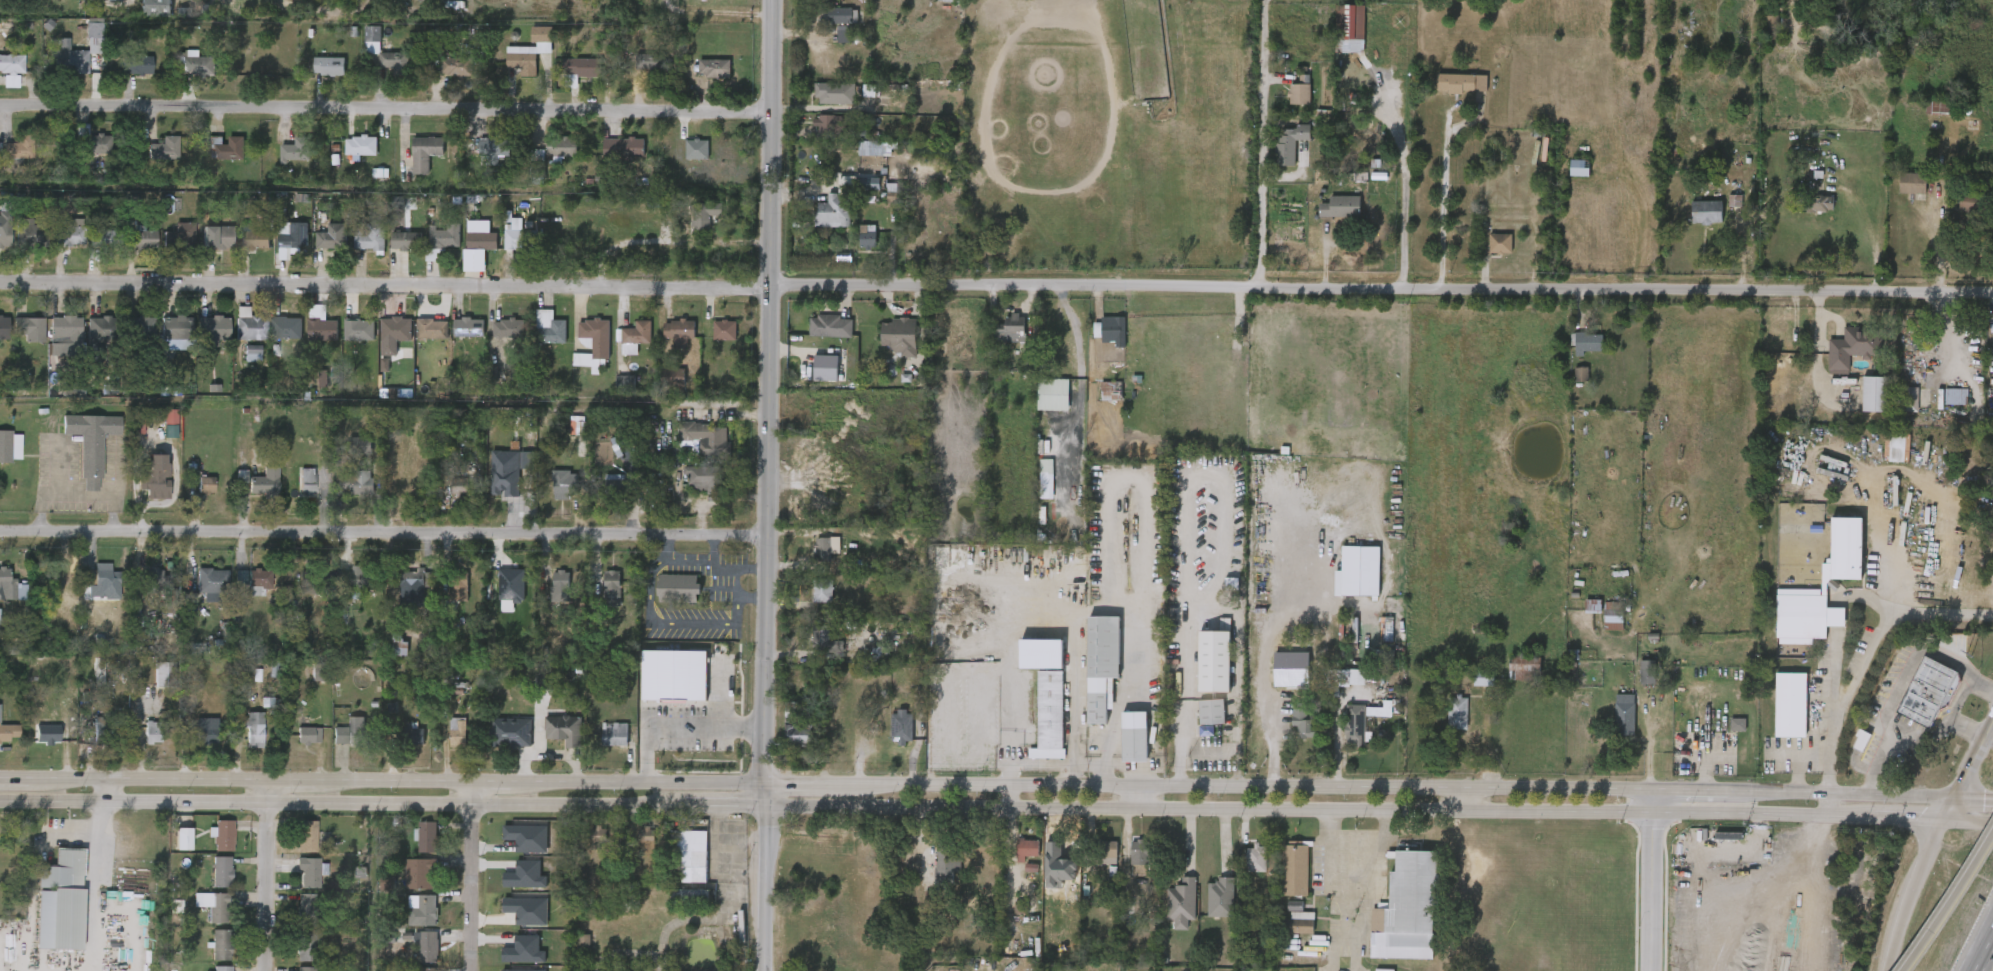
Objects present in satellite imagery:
building: (712, 0)
building: (102, 5)
building: (142, 13)
building: (841, 13)
building: (1773, 25)
building: (827, 27)
building: (91, 30)
building: (1336, 32)
building: (847, 34)
building: (831, 44)
building: (80, 49)
building: (359, 50)
building: (383, 53)
building: (70, 57)
building: (520, 63)
building: (10, 64)
building: (134, 64)
building: (651, 64)
building: (193, 65)
building: (327, 66)
building: (455, 66)
building: (55, 68)
building: (580, 68)
building: (713, 68)
building: (382, 73)
building: (635, 73)
building: (182, 74)
building: (123, 76)
building: (316, 77)
building: (443, 77)
building: (569, 77)
building: (701, 79)
building: (8, 82)
building: (1462, 83)
building: (1330, 84)
building: (836, 92)
building: (1300, 93)
building: (1447, 93)
building: (1286, 102)
building: (819, 104)
building: (1941, 107)
road: (385, 110)
building: (1924, 119)
building: (827, 123)
building: (816, 135)
building: (90, 142)
building: (1289, 142)
building: (359, 146)
building: (223, 147)
building: (561, 147)
building: (18, 148)
building: (493, 148)
building: (621, 148)
road: (1262, 148)
building: (162, 149)
building: (295, 150)
building: (80, 153)
building: (423, 153)
building: (1275, 154)
building: (348, 156)
building: (10, 158)
building: (213, 158)
building: (480, 158)
building: (861, 158)
building: (548, 159)
building: (610, 159)
building: (151, 160)
building: (683, 160)
building: (284, 161)
building: (412, 163)
building: (536, 163)
building: (525, 165)
building: (1579, 166)
building: (1565, 178)
building: (367, 183)
building: (1912, 183)
road: (1406, 187)
building: (1898, 194)
building: (846, 198)
road: (1444, 203)
building: (1819, 203)
building: (1339, 206)
building: (1705, 211)
building: (1721, 212)
building: (703, 213)
building: (1804, 214)
building: (1956, 214)
building: (823, 216)
building: (1326, 217)
building: (1692, 222)
building: (691, 226)
road: (1869, 231)
building: (28, 232)
building: (4, 235)
building: (66, 235)
building: (178, 235)
building: (331, 235)
building: (216, 236)
building: (290, 236)
building: (368, 236)
building: (868, 236)
building: (103, 238)
building: (139, 238)
building: (253, 238)
building: (441, 238)
building: (518, 239)
building: (405, 240)
building: (481, 240)
building: (16, 242)
building: (1499, 242)
building: (500, 245)
building: (90, 246)
building: (56, 247)
building: (166, 247)
building: (319, 247)
building: (854, 247)
building: (203, 248)
building: (430, 248)
building: (468, 248)
building: (278, 249)
building: (356, 249)
building: (130, 250)
building: (241, 251)
building: (393, 251)
building: (1486, 254)
road: (379, 288)
road: (1375, 291)
building: (247, 324)
building: (548, 326)
building: (833, 326)
building: (3, 327)
building: (27, 327)
building: (64, 327)
building: (99, 327)
building: (134, 327)
building: (174, 327)
building: (212, 327)
building: (285, 327)
building: (467, 327)
building: (394, 328)
building: (431, 328)
building: (504, 328)
building: (677, 328)
building: (1011, 328)
building: (322, 329)
building: (1112, 329)
building: (357, 330)
road: (1943, 331)
building: (722, 333)
building: (1785, 334)
building: (899, 335)
building: (127, 336)
building: (236, 336)
building: (634, 336)
building: (308, 337)
building: (816, 337)
building: (1992, 337)
building: (273, 338)
building: (455, 338)
building: (537, 338)
building: (16, 339)
building: (495, 339)
building: (1863, 339)
building: (346, 340)
building: (382, 340)
building: (419, 340)
building: (711, 340)
building: (997, 340)
building: (86, 341)
building: (199, 341)
building: (1097, 341)
building: (161, 342)
building: (666, 343)
building: (1588, 343)
building: (592, 344)
building: (51, 345)
building: (887, 346)
building: (622, 348)
building: (1574, 354)
building: (580, 355)
building: (1835, 361)
building: (238, 364)
building: (673, 377)
building: (812, 378)
building: (1567, 385)
building: (659, 388)
building: (310, 389)
building: (1112, 391)
building: (612, 393)
building: (1875, 393)
building: (1955, 396)
building: (1909, 399)
building: (1992, 400)
building: (1097, 401)
building: (1859, 404)
building: (1941, 407)
building: (1896, 410)
building: (1985, 411)
building: (157, 434)
building: (704, 437)
building: (124, 439)
building: (89, 443)
building: (9, 446)
building: (693, 449)
building: (78, 454)
building: (348, 456)
building: (153, 478)
building: (704, 478)
building: (306, 480)
building: (360, 481)
building: (263, 483)
building: (205, 484)
building: (492, 484)
building: (563, 484)
building: (828, 484)
building: (613, 485)
road: (754, 485)
building: (460, 486)
building: (688, 488)
building: (141, 490)
building: (345, 492)
building: (251, 493)
building: (192, 495)
building: (551, 495)
building: (604, 496)
building: (1032, 496)
building: (448, 497)
building: (1932, 522)
road: (376, 534)
building: (823, 547)
building: (1844, 548)
building: (812, 558)
road: (1220, 574)
building: (149, 576)
building: (258, 578)
building: (99, 579)
building: (361, 579)
building: (409, 580)
building: (1346, 581)
building: (305, 582)
building: (213, 584)
building: (562, 584)
building: (459, 585)
building: (145, 587)
building: (228, 587)
building: (10, 588)
building: (347, 588)
building: (611, 588)
building: (678, 588)
building: (822, 589)
building: (1217, 590)
building: (245, 592)
building: (294, 593)
building: (198, 594)
building: (399, 594)
building: (1072, 594)
building: (498, 595)
road: (1862, 595)
building: (449, 597)
building: (598, 598)
building: (665, 598)
building: (809, 601)
building: (6, 602)
building: (1593, 604)
building: (1059, 605)
building: (1614, 611)
building: (1805, 614)
road: (1837, 615)
building: (1579, 616)
building: (1599, 626)
building: (826, 639)
building: (399, 645)
building: (811, 650)
building: (880, 651)
road: (1867, 654)
building: (386, 655)
building: (1212, 660)
building: (1101, 665)
road: (1837, 668)
building: (1524, 669)
building: (1648, 671)
building: (163, 674)
building: (1346, 677)
building: (1483, 677)
building: (318, 678)
building: (1510, 678)
building: (1633, 678)
road: (1900, 682)
building: (147, 684)
building: (661, 685)
building: (1267, 685)
building: (1338, 687)
building: (530, 689)
building: (1469, 689)
building: (1927, 690)
road: (1961, 700)
building: (1790, 703)
building: (1211, 711)
building: (1458, 712)
building: (1624, 713)
building: (1049, 714)
building: (1776, 715)
building: (1304, 720)
building: (1198, 722)
building: (1443, 723)
building: (1355, 724)
building: (902, 725)
building: (1610, 725)
building: (796, 726)
building: (1036, 726)
building: (563, 728)
building: (253, 729)
building: (349, 731)
building: (457, 731)
building: (8, 732)
building: (152, 732)
building: (45, 733)
building: (508, 733)
building: (1289, 733)
building: (614, 734)
building: (202, 735)
building: (307, 735)
building: (411, 735)
building: (1134, 735)
building: (1724, 735)
building: (1342, 736)
road: (1932, 736)
building: (888, 737)
building: (1861, 738)
building: (87, 739)
road: (669, 739)
building: (240, 740)
building: (551, 740)
building: (139, 742)
building: (444, 742)
building: (34, 744)
building: (402, 744)
building: (601, 744)
building: (190, 745)
building: (295, 745)
building: (326, 746)
road: (1650, 746)
building: (1121, 747)
road: (1260, 747)
building: (1846, 751)
road: (1206, 752)
road: (1797, 759)
road: (1966, 764)
road: (996, 787)
road: (107, 791)
road: (1013, 798)
road: (1141, 800)
road: (1466, 800)
road: (1828, 807)
road: (996, 810)
road: (100, 819)
building: (224, 834)
building: (308, 834)
road: (1329, 835)
building: (428, 836)
building: (183, 838)
building: (596, 839)
building: (646, 839)
building: (293, 842)
building: (210, 846)
building: (585, 846)
building: (414, 847)
building: (514, 848)
building: (633, 848)
building: (1105, 848)
building: (170, 849)
building: (1026, 849)
building: (1257, 849)
building: (1140, 851)
building: (693, 855)
building: (1014, 859)
building: (1095, 859)
building: (1127, 863)
building: (679, 866)
building: (1243, 869)
building: (1293, 869)
road: (1352, 870)
building: (221, 871)
building: (308, 872)
building: (420, 872)
building: (929, 873)
road: (273, 875)
road: (33, 876)
road: (471, 876)
building: (1281, 879)
building: (298, 881)
building: (209, 882)
road: (1652, 882)
building: (407, 884)
building: (512, 885)
road: (1907, 893)
building: (690, 896)
building: (1220, 897)
building: (60, 901)
building: (1181, 902)
road: (95, 903)
building: (676, 905)
building: (215, 906)
road: (1948, 906)
building: (1405, 907)
building: (1207, 908)
building: (422, 910)
building: (1168, 913)
building: (200, 916)
building: (292, 916)
building: (1281, 916)
building: (409, 921)
building: (305, 927)
building: (1285, 933)
road: (1976, 939)
building: (221, 944)
building: (428, 945)
building: (571, 952)
building: (208, 955)
building: (415, 956)
building: (510, 959)
building: (222, 968)
building: (305, 968)
building: (426, 969)

